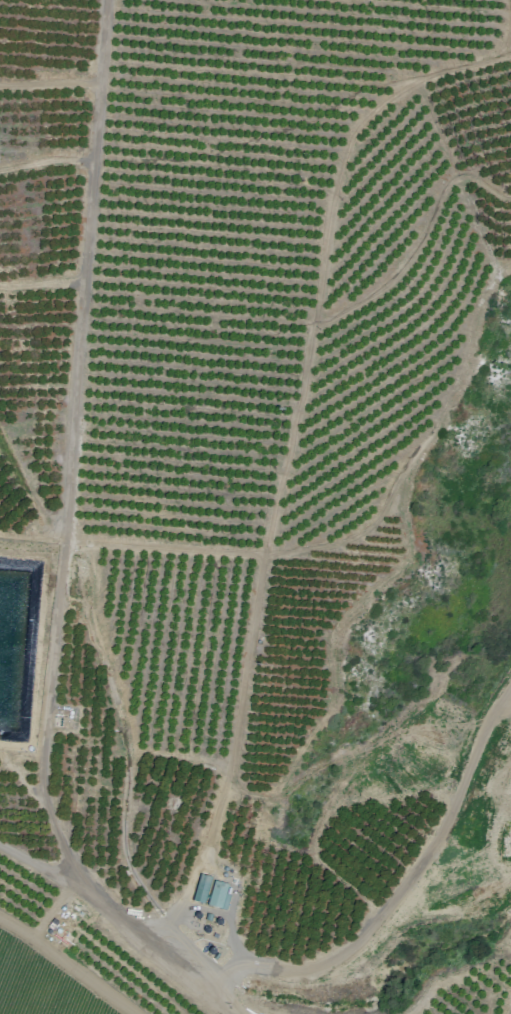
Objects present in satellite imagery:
road: (509, 27)
road: (50, 82)
road: (47, 160)
road: (421, 242)
road: (43, 283)
road: (287, 457)
road: (338, 543)
road: (64, 548)
road: (333, 656)
road: (121, 692)
road: (18, 775)
road: (43, 868)
building: (201, 889)
road: (400, 889)
building: (217, 895)
road: (51, 910)
road: (69, 964)
crop: (40, 983)

